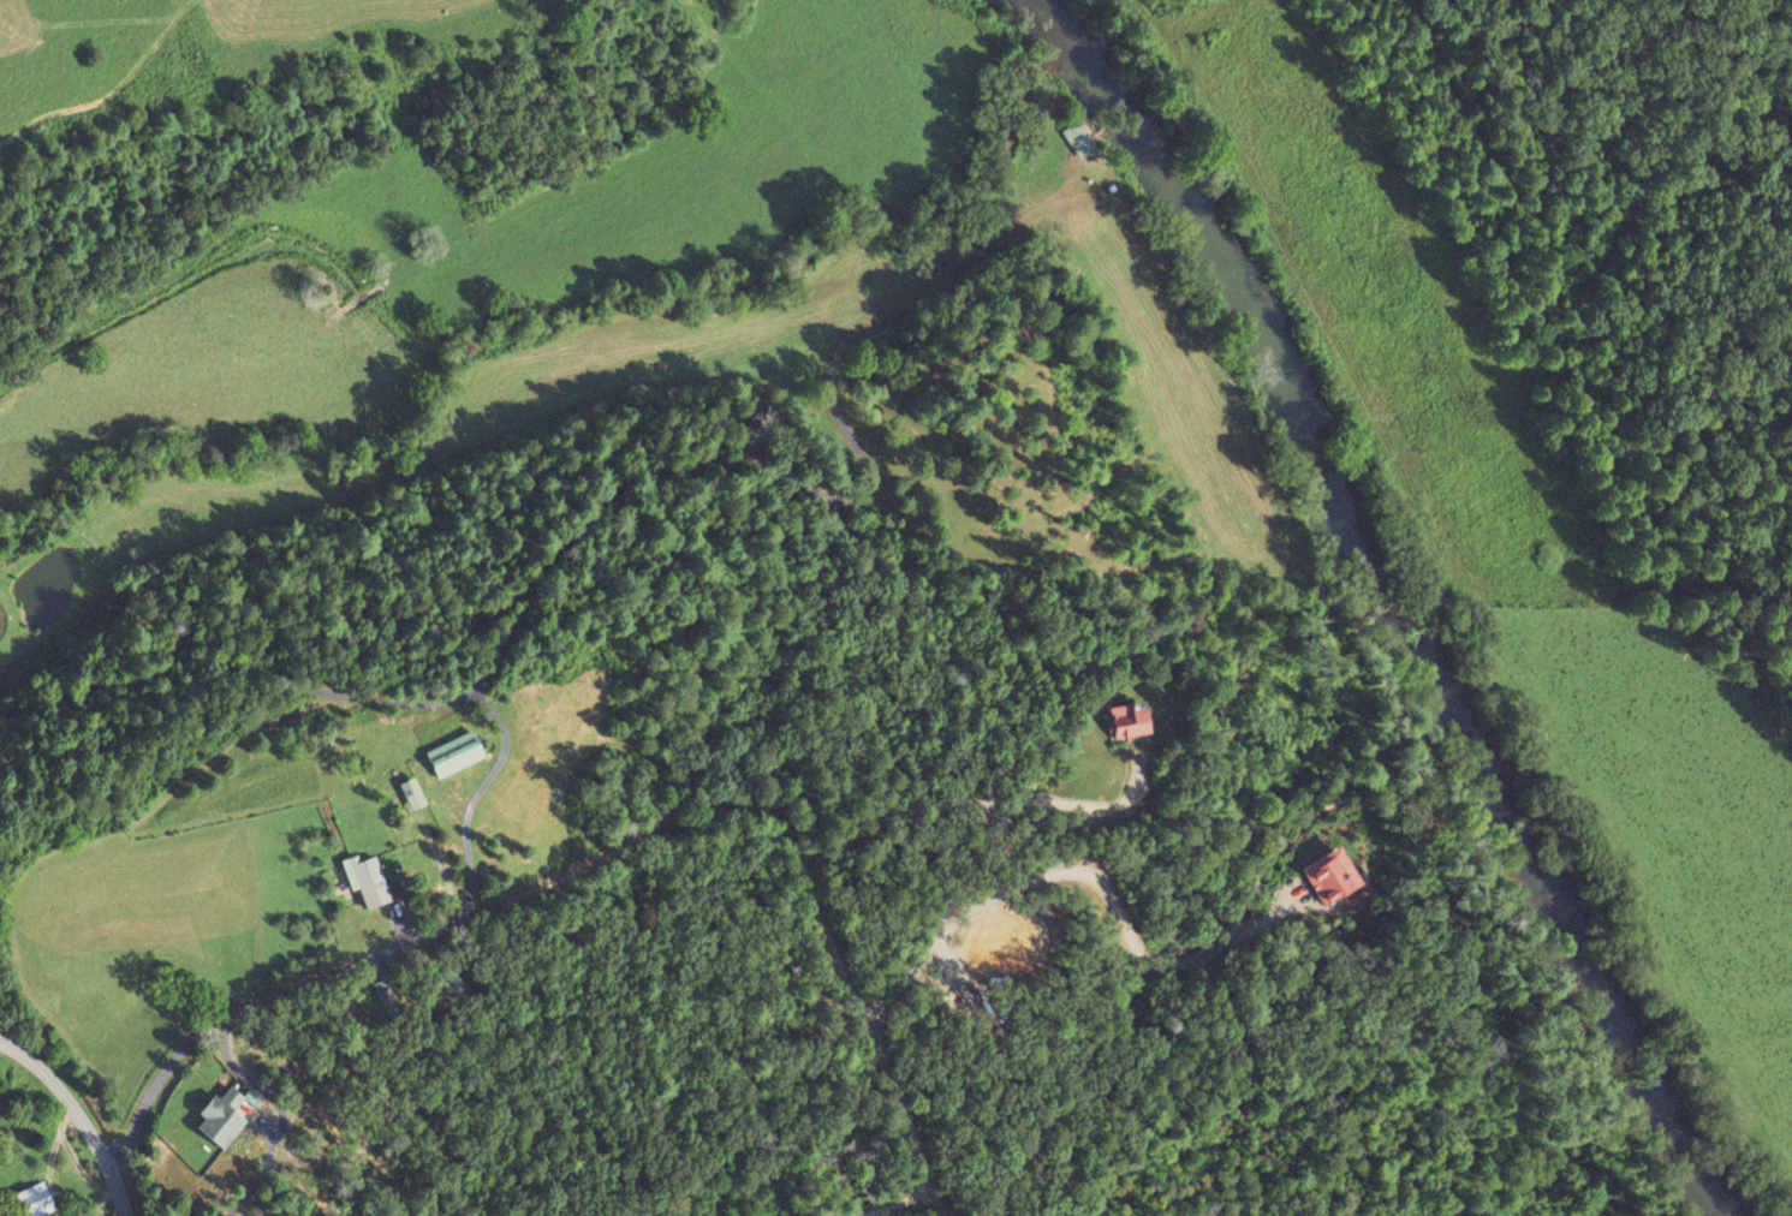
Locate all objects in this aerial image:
river: (1048, 36)
building: (1077, 138)
river: (1411, 639)
building: (1126, 720)
building: (453, 753)
building: (410, 793)
building: (1329, 876)
building: (368, 881)
building: (452, 984)
building: (383, 995)
road: (81, 1113)
building: (220, 1117)
road: (909, 1203)

